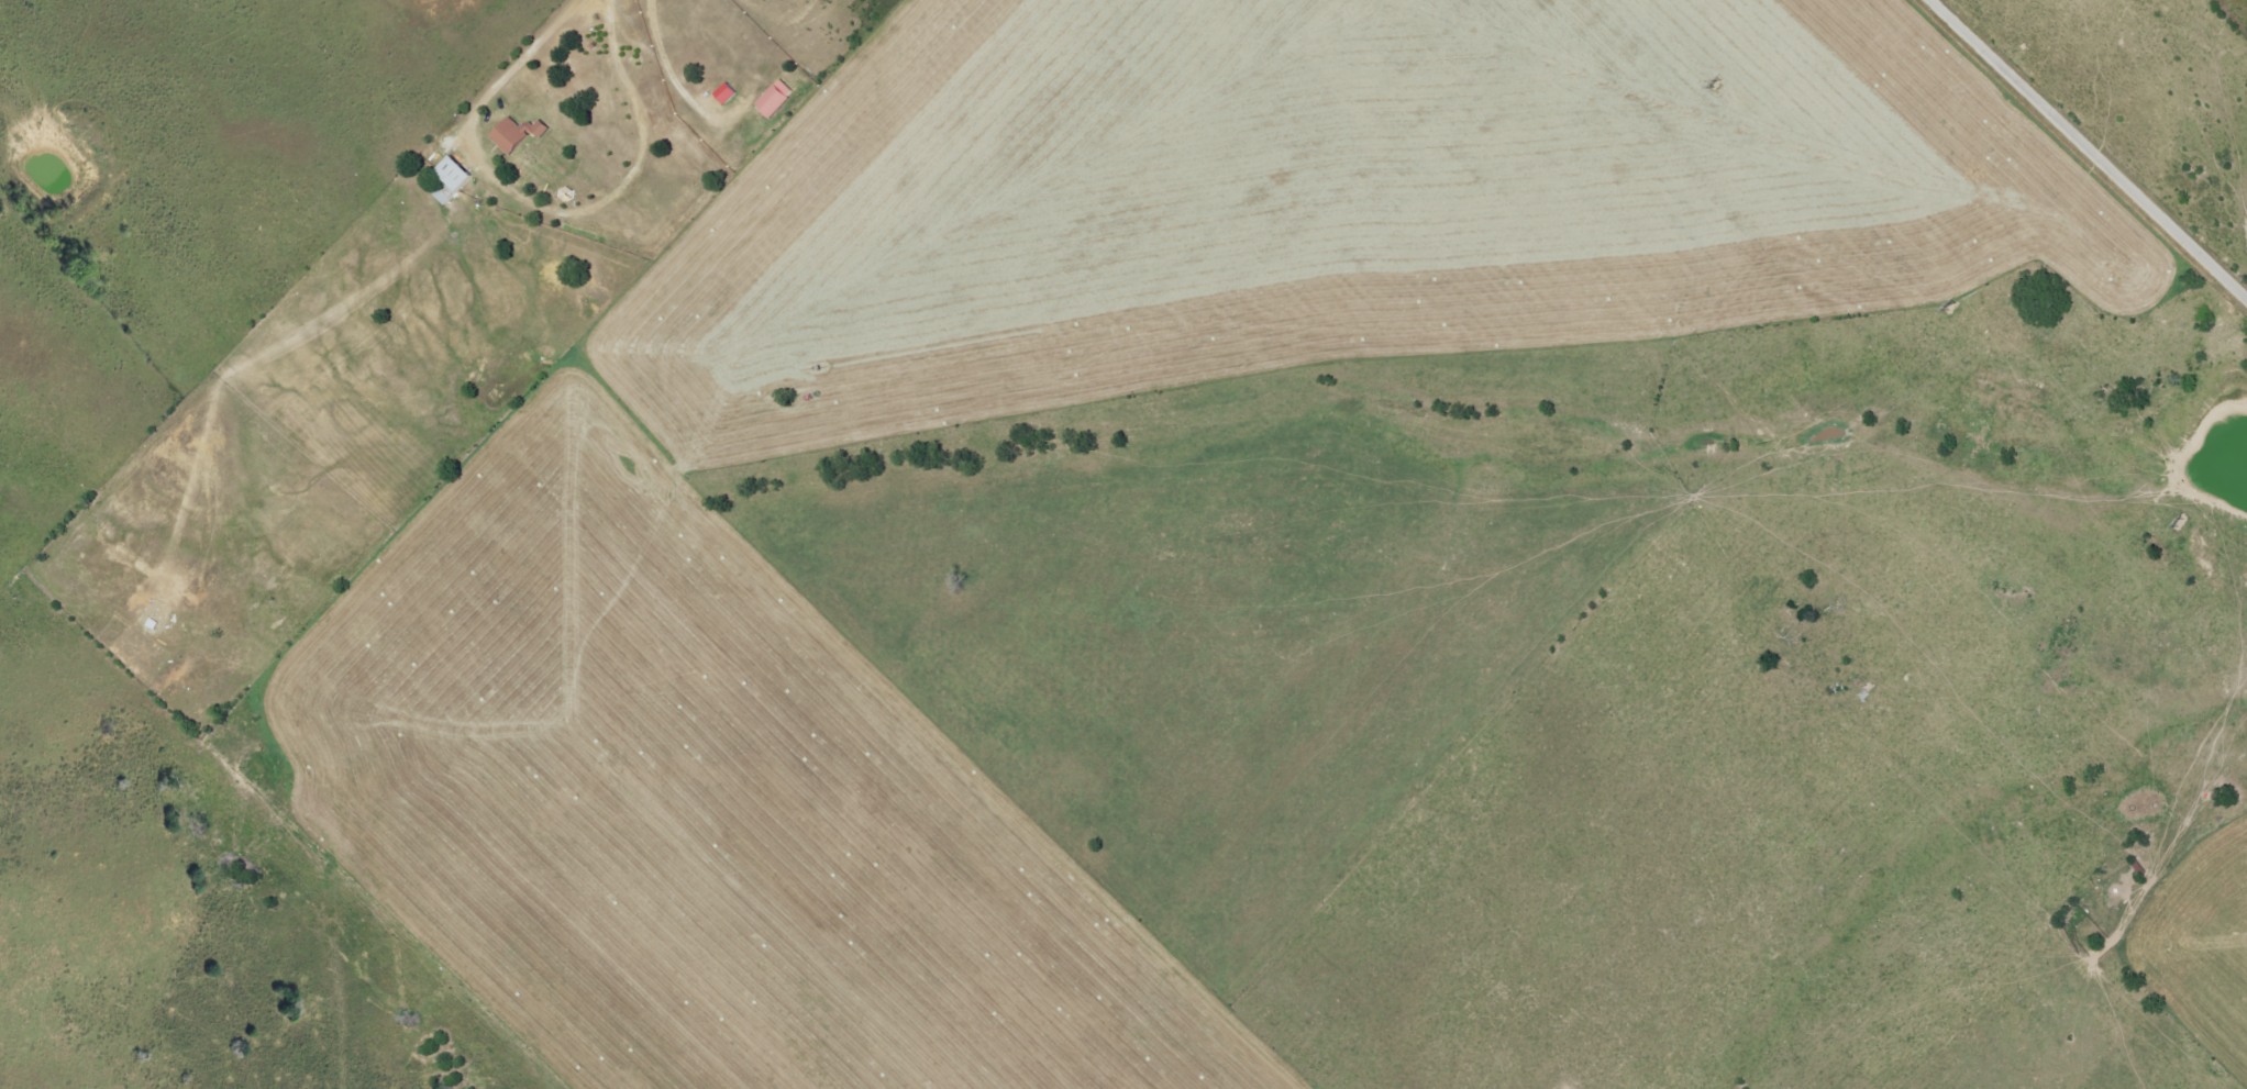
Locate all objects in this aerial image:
road: (655, 37)
road: (522, 55)
road: (650, 56)
power tower: (1707, 79)
building: (729, 95)
building: (778, 99)
building: (519, 134)
road: (2100, 138)
building: (453, 181)
road: (611, 201)
power tower: (1945, 302)
power tower: (2174, 518)

